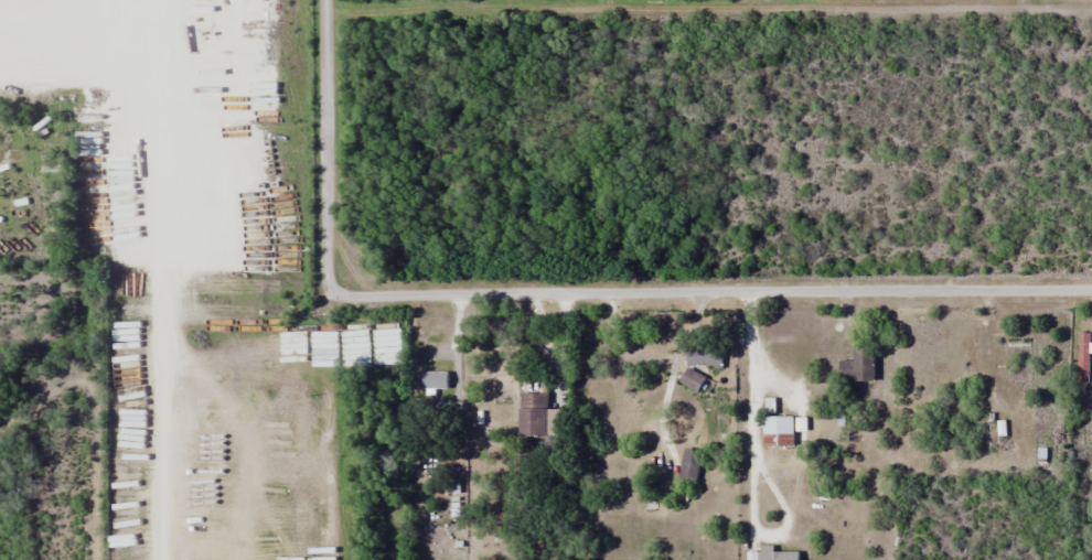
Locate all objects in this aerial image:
road: (325, 147)
road: (163, 263)
road: (711, 293)
building: (704, 356)
building: (1085, 357)
building: (1018, 360)
building: (858, 366)
building: (432, 380)
building: (692, 380)
building: (538, 418)
building: (778, 431)
building: (690, 465)
building: (777, 556)

